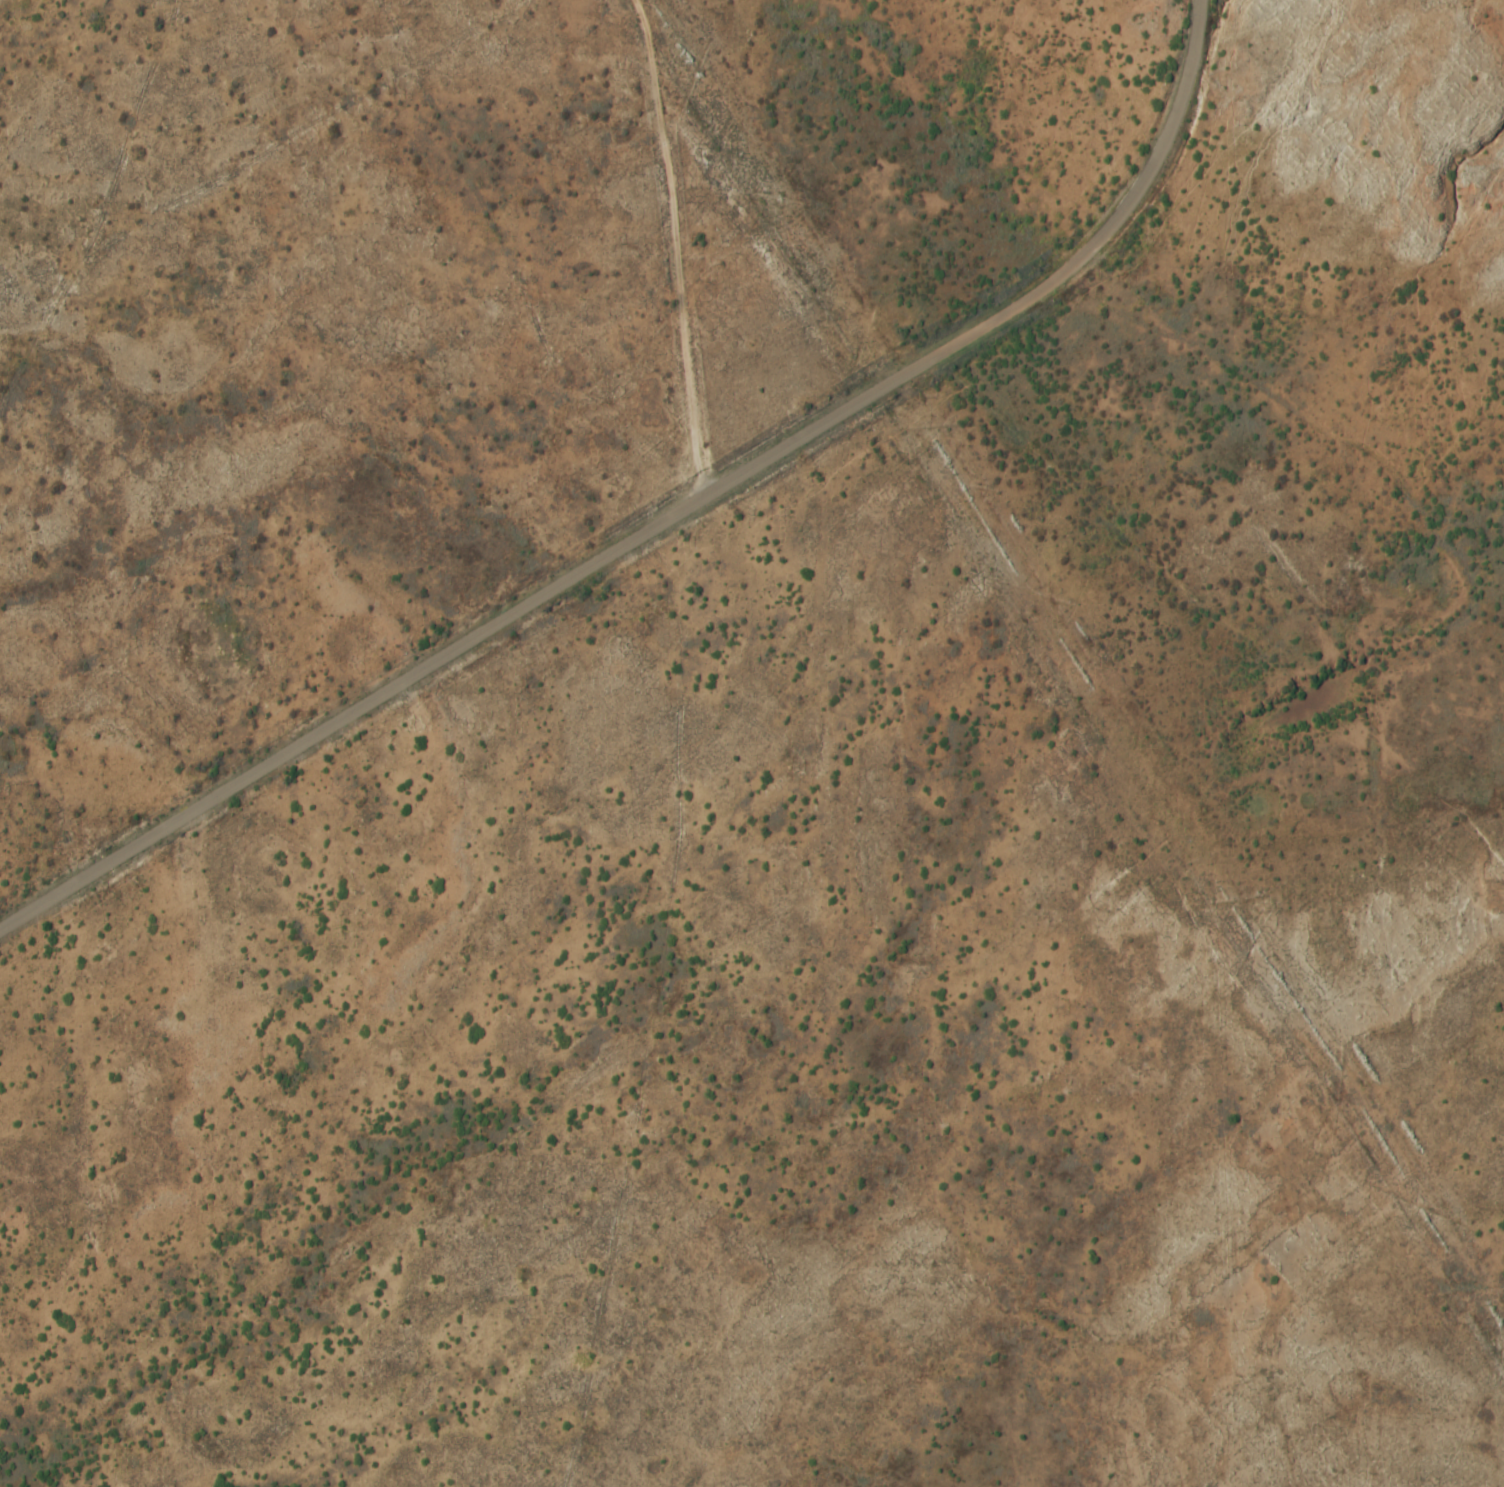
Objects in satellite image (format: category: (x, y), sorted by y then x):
road: (679, 243)
road: (667, 519)

